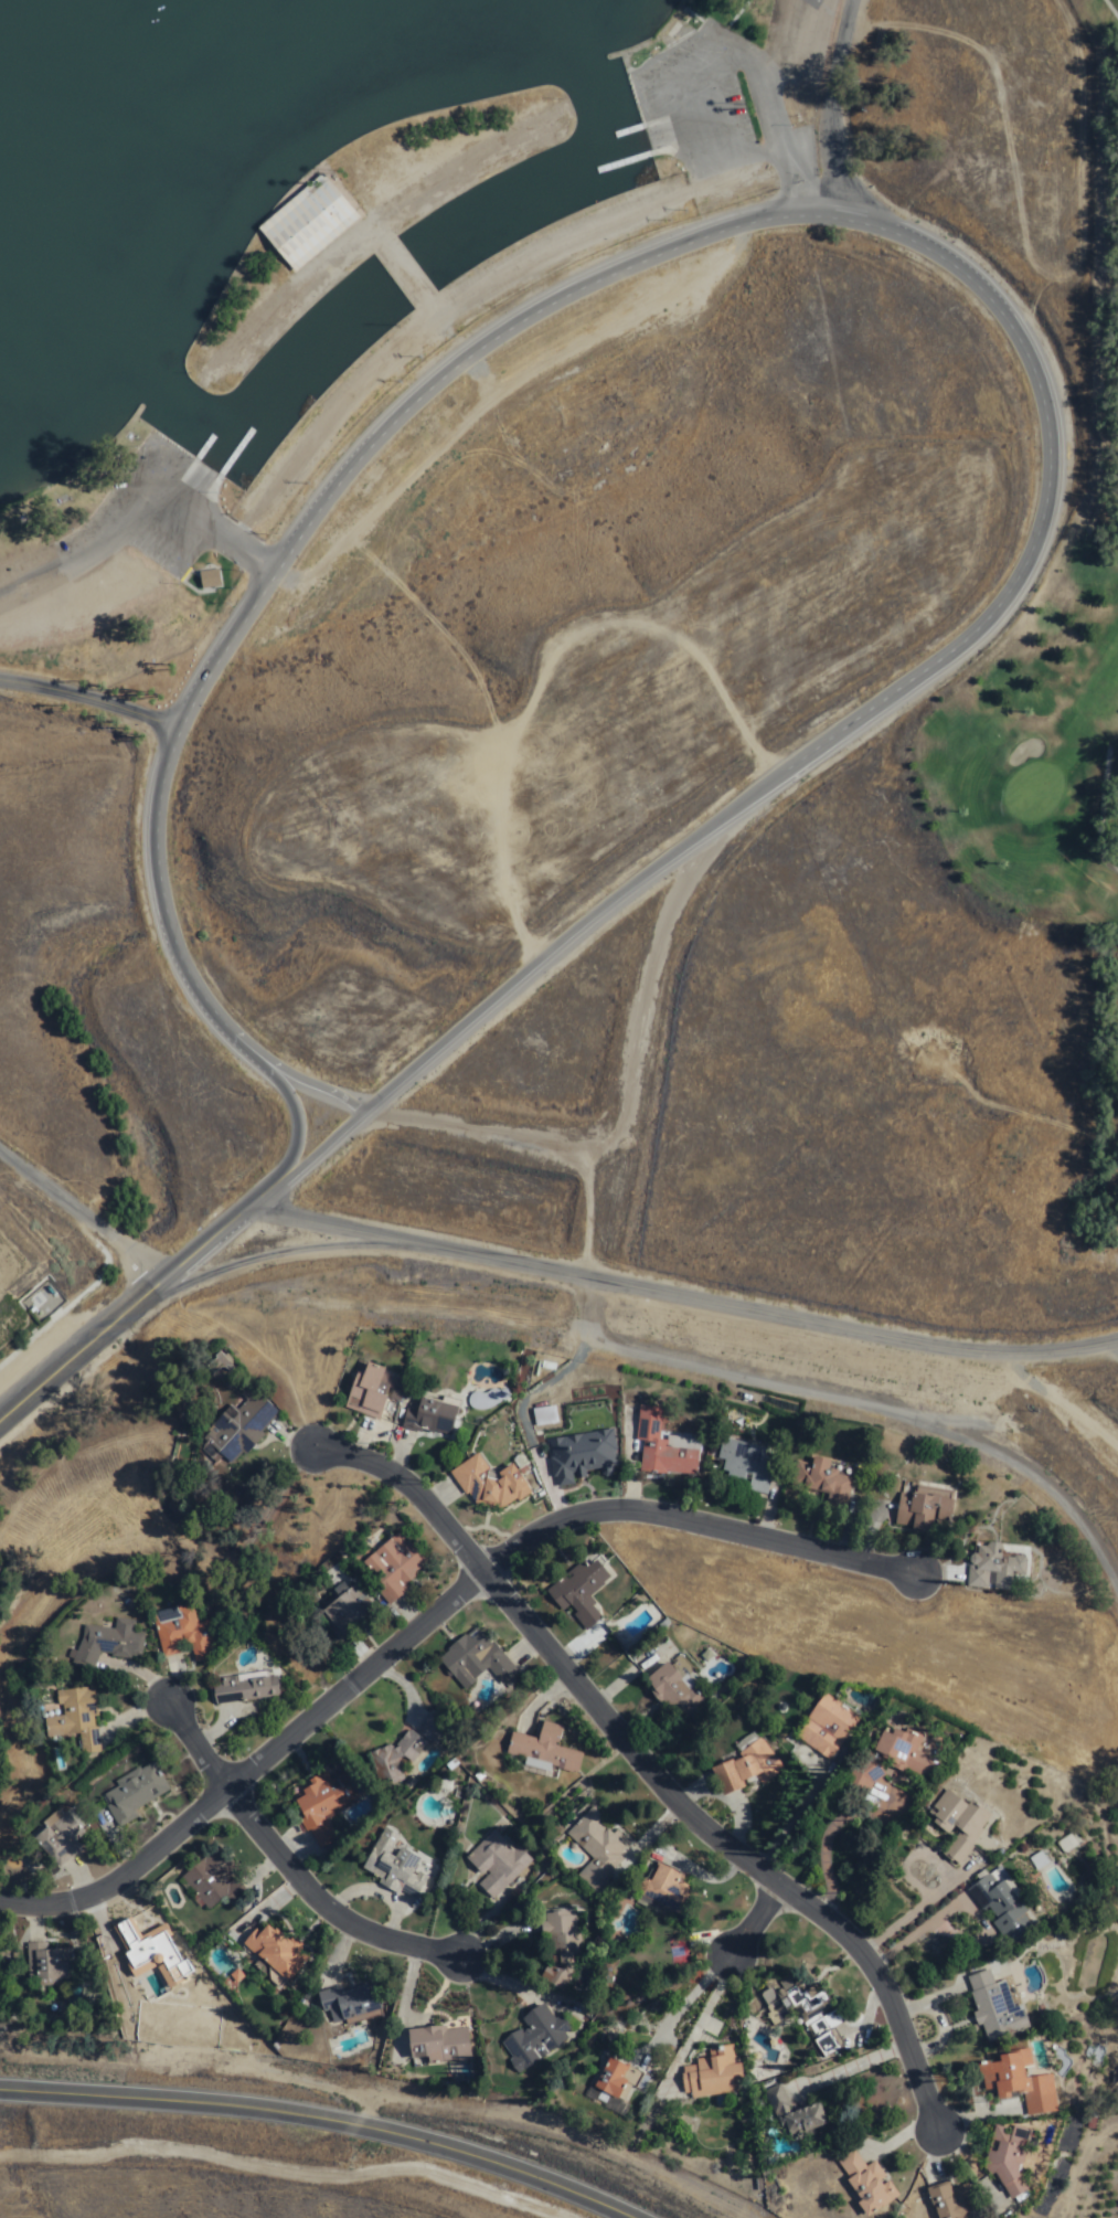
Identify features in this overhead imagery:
park: (1109, 14)
parking lot: (718, 107)
road: (816, 107)
road: (834, 149)
building: (305, 224)
road: (579, 280)
parking lot: (147, 529)
building: (207, 579)
park: (574, 669)
road: (95, 673)
park: (620, 736)
road: (546, 955)
park: (1105, 980)
road: (636, 1037)
road: (280, 1101)
road: (475, 1132)
road: (316, 1148)
road: (77, 1216)
road: (301, 1250)
parking lot: (1116, 1256)
road: (681, 1292)
road: (131, 1293)
road: (585, 1306)
road: (1111, 1347)
road: (766, 1379)
building: (370, 1392)
building: (487, 1399)
road: (1053, 1402)
building: (543, 1415)
building: (429, 1418)
building: (241, 1429)
building: (661, 1448)
building: (579, 1456)
building: (748, 1465)
road: (1039, 1476)
building: (823, 1481)
building: (488, 1485)
building: (923, 1507)
building: (395, 1569)
building: (995, 1569)
building: (579, 1592)
building: (349, 1609)
road: (426, 1612)
building: (183, 1635)
building: (109, 1645)
building: (476, 1660)
building: (247, 1689)
building: (675, 1691)
building: (78, 1719)
building: (827, 1729)
building: (546, 1749)
building: (406, 1750)
building: (905, 1755)
road: (641, 1765)
building: (746, 1770)
building: (863, 1774)
building: (137, 1795)
building: (321, 1807)
road: (788, 1821)
building: (961, 1826)
building: (62, 1839)
road: (822, 1846)
building: (597, 1849)
road: (281, 1861)
building: (1040, 1863)
building: (497, 1865)
building: (395, 1867)
building: (215, 1880)
building: (668, 1892)
road: (955, 1904)
building: (1008, 1911)
road: (748, 1921)
building: (151, 1951)
building: (563, 1951)
building: (278, 1953)
building: (49, 1964)
building: (237, 1977)
road: (683, 2003)
building: (352, 2004)
building: (995, 2008)
building: (819, 2020)
building: (536, 2041)
building: (443, 2050)
road: (847, 2068)
building: (715, 2076)
building: (611, 2083)
building: (1019, 2086)
building: (794, 2114)
road: (312, 2119)
building: (1007, 2161)
building: (867, 2185)
building: (951, 2203)

